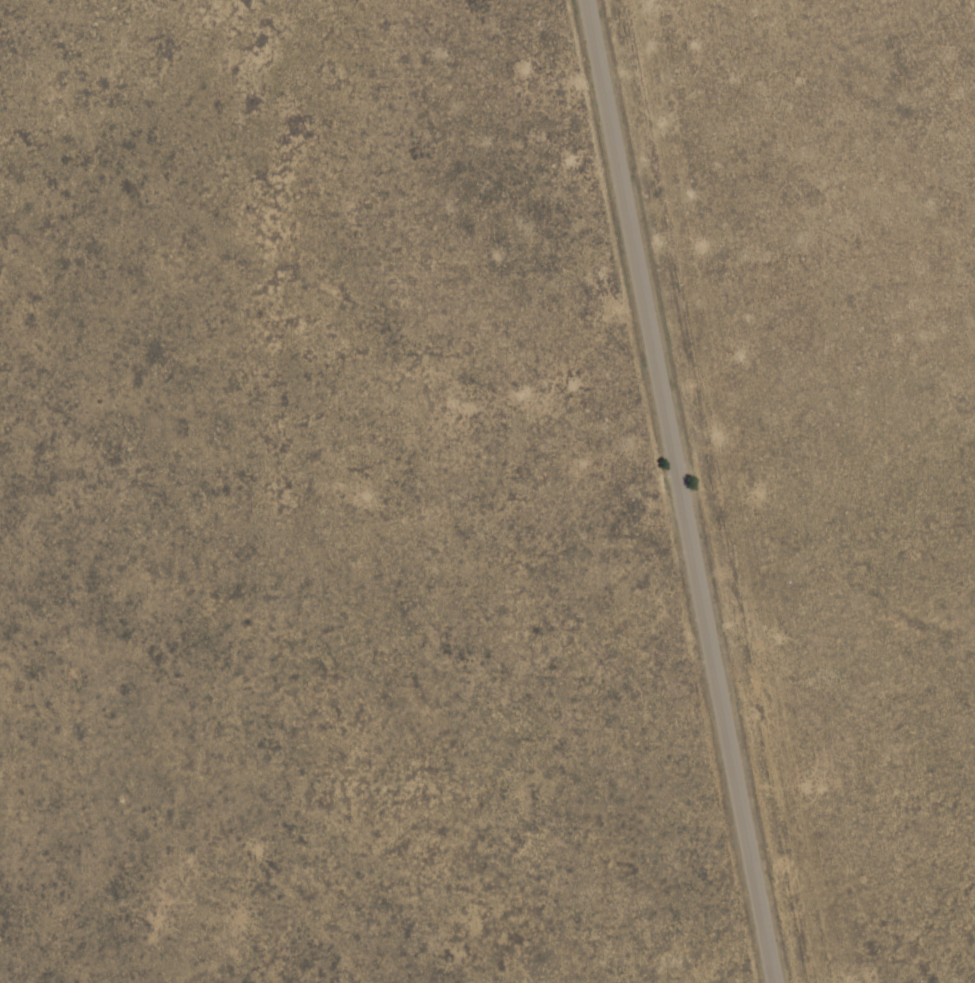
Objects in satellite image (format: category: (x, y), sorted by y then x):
road: (682, 490)

